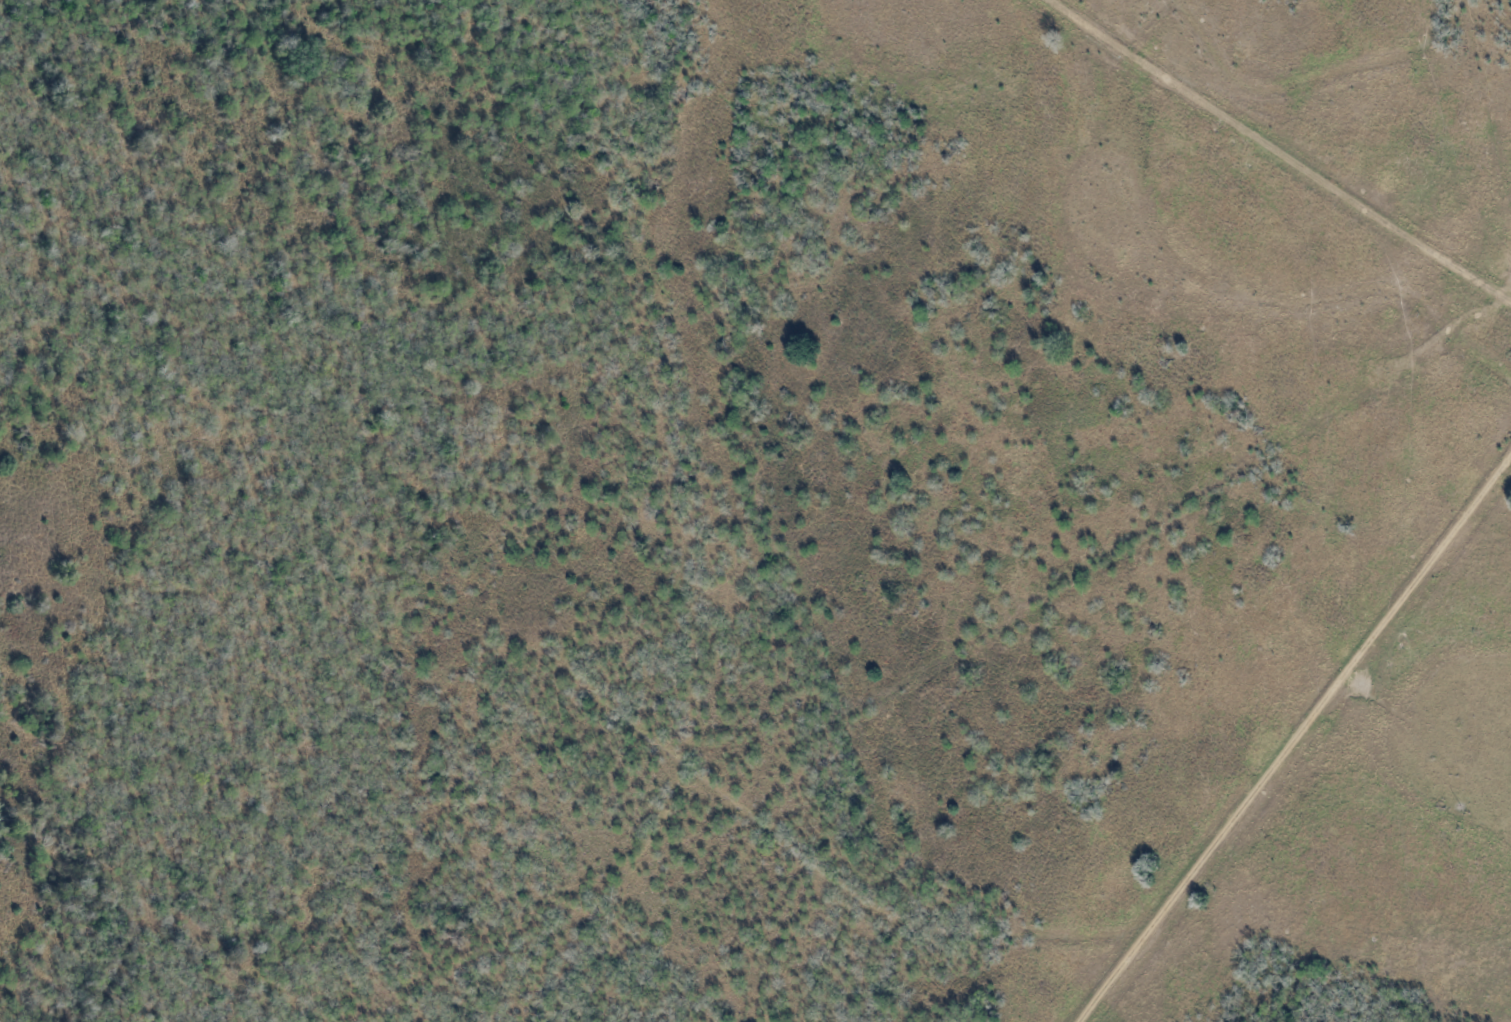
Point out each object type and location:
road: (1295, 738)

